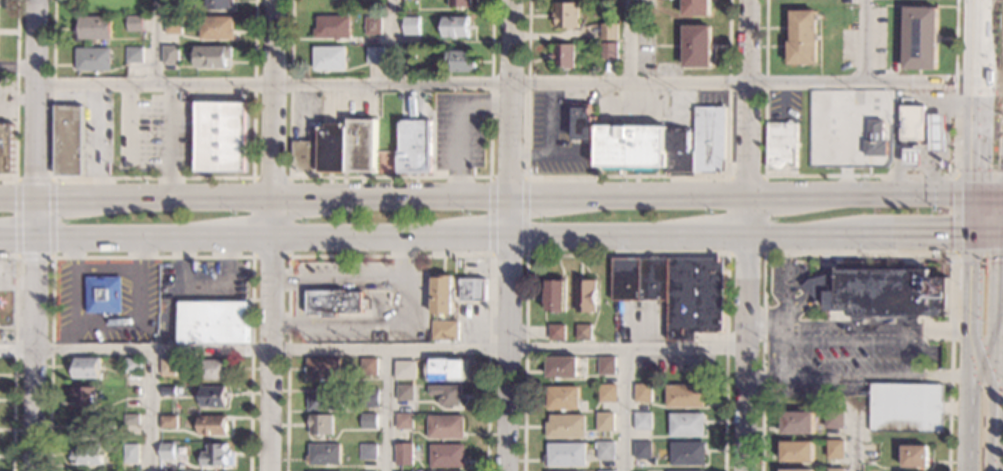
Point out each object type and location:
building: (460, 3)
building: (219, 4)
building: (174, 8)
building: (695, 8)
building: (566, 15)
building: (134, 23)
building: (372, 25)
building: (411, 25)
building: (173, 26)
building: (94, 27)
building: (332, 27)
building: (456, 27)
building: (216, 28)
building: (609, 31)
building: (802, 38)
building: (919, 38)
road: (390, 41)
road: (630, 41)
road: (157, 42)
road: (862, 42)
building: (697, 46)
building: (610, 51)
building: (405, 53)
building: (170, 54)
building: (135, 55)
building: (374, 55)
building: (563, 55)
building: (211, 57)
building: (329, 58)
building: (93, 59)
building: (460, 62)
road: (17, 70)
road: (504, 82)
road: (16, 97)
road: (973, 98)
road: (550, 118)
road: (35, 120)
building: (583, 122)
building: (911, 123)
road: (458, 126)
parking lot: (459, 130)
building: (937, 133)
parking lot: (556, 135)
building: (220, 137)
building: (874, 139)
building: (68, 140)
road: (126, 140)
road: (172, 141)
building: (781, 144)
building: (415, 146)
building: (666, 146)
building: (6, 147)
building: (348, 147)
road: (549, 154)
building: (304, 156)
building: (911, 157)
road: (507, 176)
road: (859, 176)
road: (388, 177)
road: (627, 177)
road: (152, 178)
road: (486, 198)
traffic signals: (973, 198)
road: (988, 198)
road: (490, 215)
road: (526, 216)
road: (952, 216)
road: (972, 216)
road: (987, 234)
road: (271, 235)
road: (508, 235)
road: (746, 235)
road: (915, 235)
traffic signals: (971, 235)
road: (446, 237)
road: (17, 240)
road: (764, 253)
road: (16, 254)
road: (626, 254)
road: (289, 255)
road: (508, 255)
road: (857, 255)
road: (151, 256)
road: (390, 256)
road: (400, 260)
road: (816, 281)
road: (784, 282)
building: (815, 285)
building: (473, 290)
building: (675, 291)
building: (883, 292)
building: (102, 295)
building: (442, 295)
building: (555, 296)
building: (585, 296)
road: (1001, 298)
road: (403, 300)
building: (334, 302)
building: (214, 322)
road: (757, 328)
road: (869, 329)
building: (445, 330)
building: (583, 332)
building: (556, 333)
road: (851, 342)
parking lot: (834, 343)
road: (985, 345)
road: (372, 351)
road: (968, 352)
road: (769, 353)
road: (13, 354)
road: (32, 355)
building: (132, 365)
building: (368, 366)
building: (606, 366)
building: (167, 367)
building: (562, 367)
building: (85, 368)
building: (322, 368)
building: (446, 369)
building: (213, 370)
building: (404, 370)
road: (855, 377)
building: (137, 391)
building: (168, 392)
building: (405, 393)
building: (607, 393)
building: (642, 393)
building: (446, 394)
building: (684, 396)
building: (84, 397)
building: (212, 397)
building: (369, 397)
building: (562, 398)
building: (327, 399)
road: (997, 406)
building: (906, 408)
road: (152, 410)
road: (623, 410)
road: (385, 411)
building: (834, 419)
building: (130, 420)
building: (369, 421)
building: (404, 421)
building: (642, 421)
building: (168, 422)
building: (605, 422)
building: (797, 422)
building: (212, 425)
building: (322, 425)
building: (686, 425)
building: (86, 426)
building: (566, 426)
building: (445, 427)
road: (857, 436)
building: (835, 449)
building: (368, 451)
building: (605, 451)
building: (642, 451)
building: (167, 452)
building: (796, 452)
building: (687, 453)
building: (130, 454)
building: (324, 454)
building: (404, 454)
building: (565, 454)
building: (87, 455)
building: (215, 455)
building: (448, 456)
building: (915, 456)
building: (611, 470)
building: (796, 470)
building: (836, 470)

